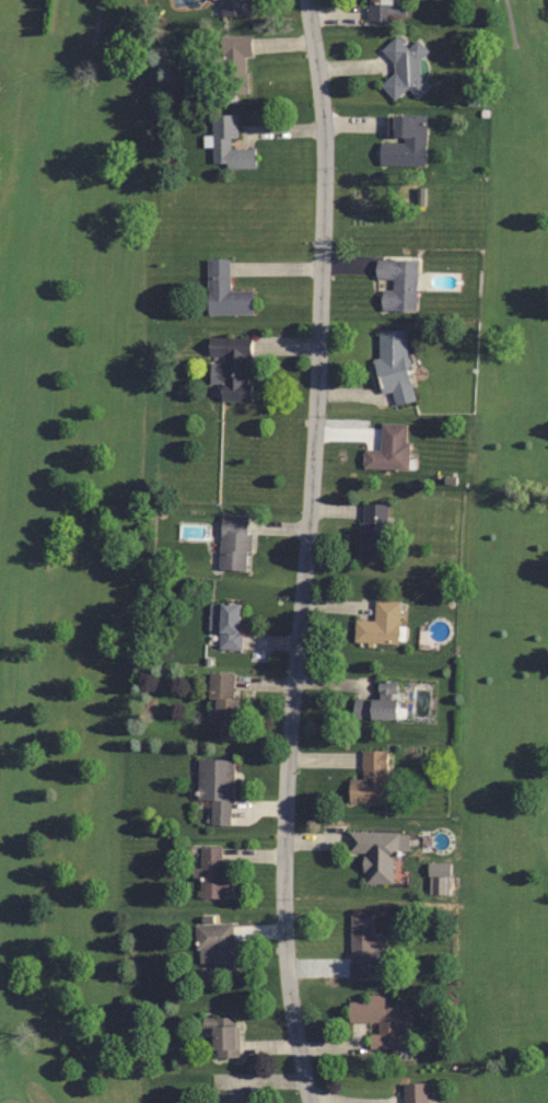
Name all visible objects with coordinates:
building: (188, 0)
building: (233, 7)
building: (385, 10)
building: (234, 63)
building: (404, 68)
building: (405, 140)
building: (228, 143)
building: (397, 283)
building: (224, 291)
building: (393, 363)
building: (229, 372)
building: (388, 448)
building: (372, 532)
building: (233, 542)
road: (307, 551)
building: (225, 624)
building: (378, 625)
building: (377, 704)
building: (222, 706)
building: (370, 779)
building: (215, 789)
building: (375, 854)
building: (213, 874)
building: (362, 944)
building: (214, 947)
building: (378, 1021)
building: (223, 1036)
building: (413, 1092)
building: (231, 1098)

